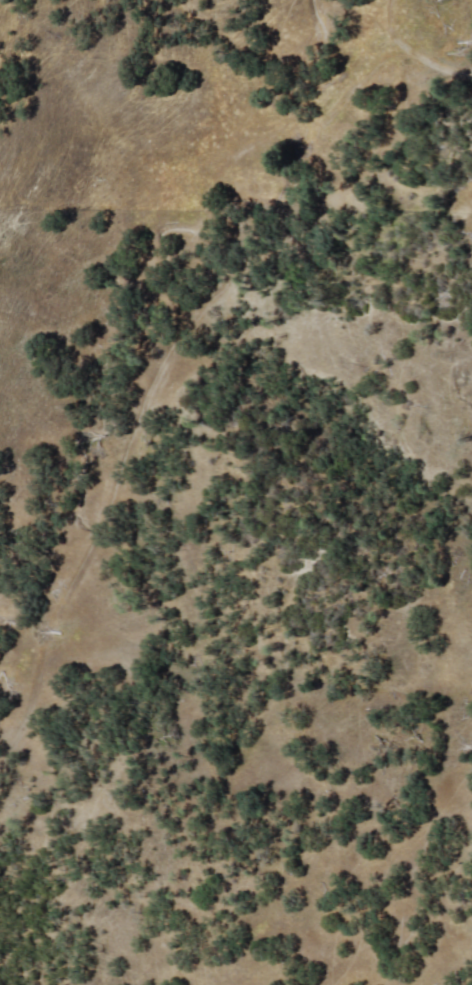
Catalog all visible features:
road: (376, 164)
road: (115, 473)

